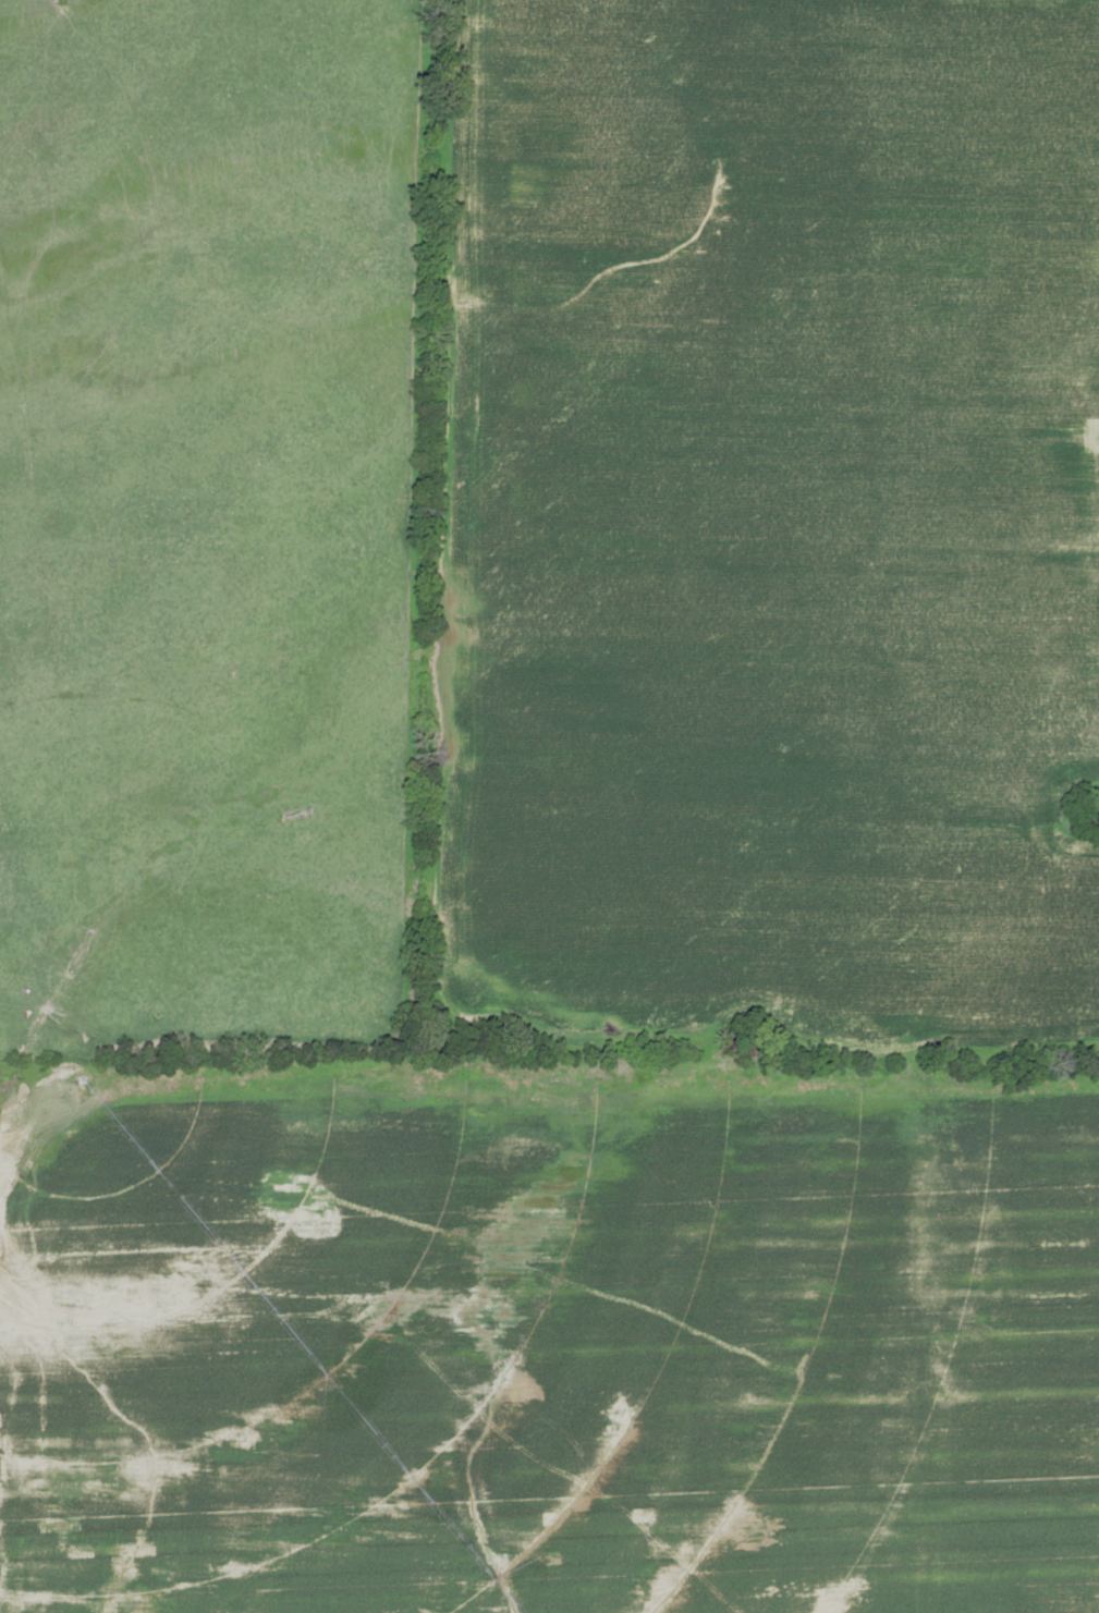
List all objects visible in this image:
road: (938, 1366)

